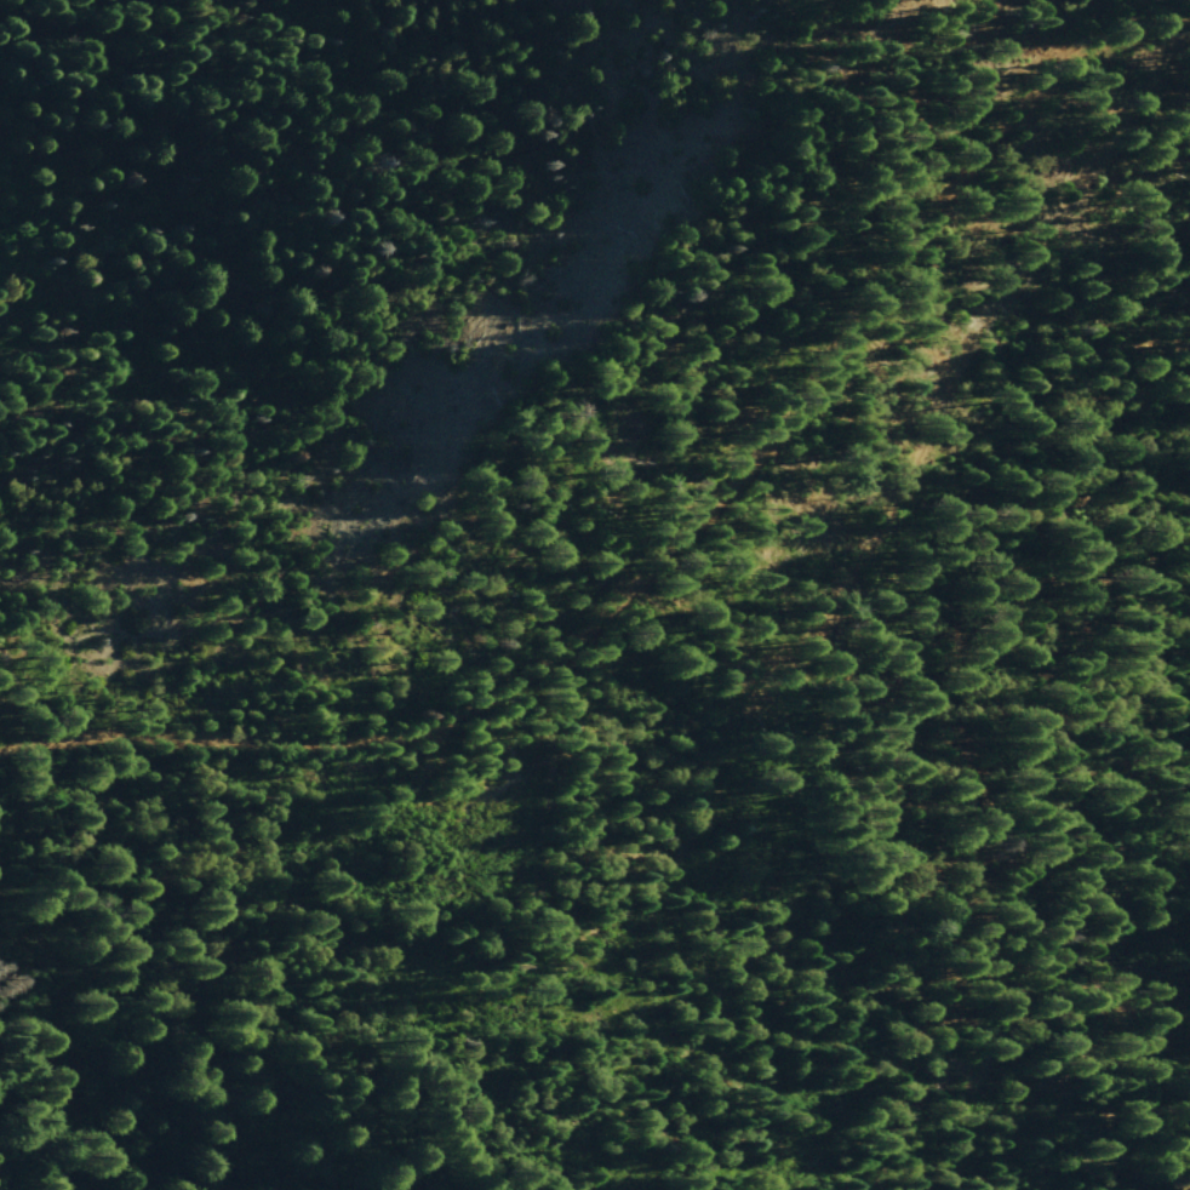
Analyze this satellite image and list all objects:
road: (679, 553)

